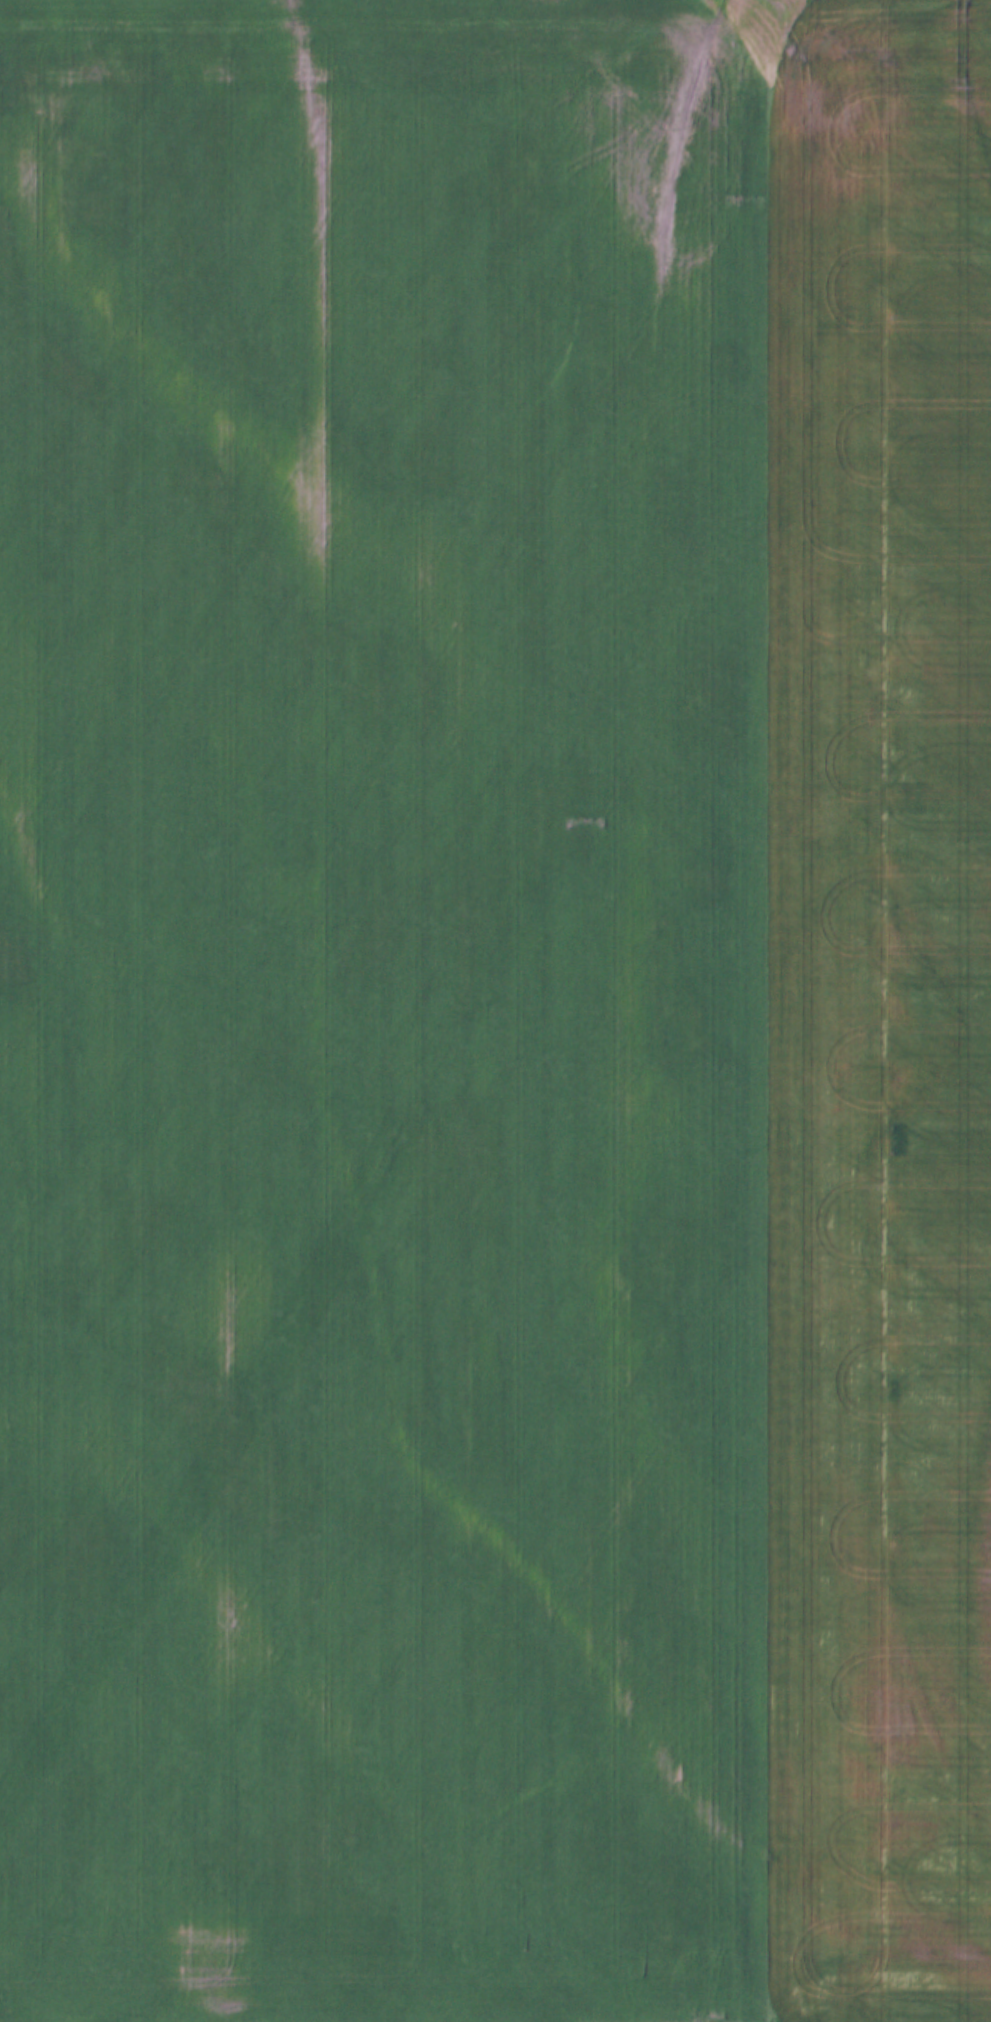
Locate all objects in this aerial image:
crop: (669, 2021)

